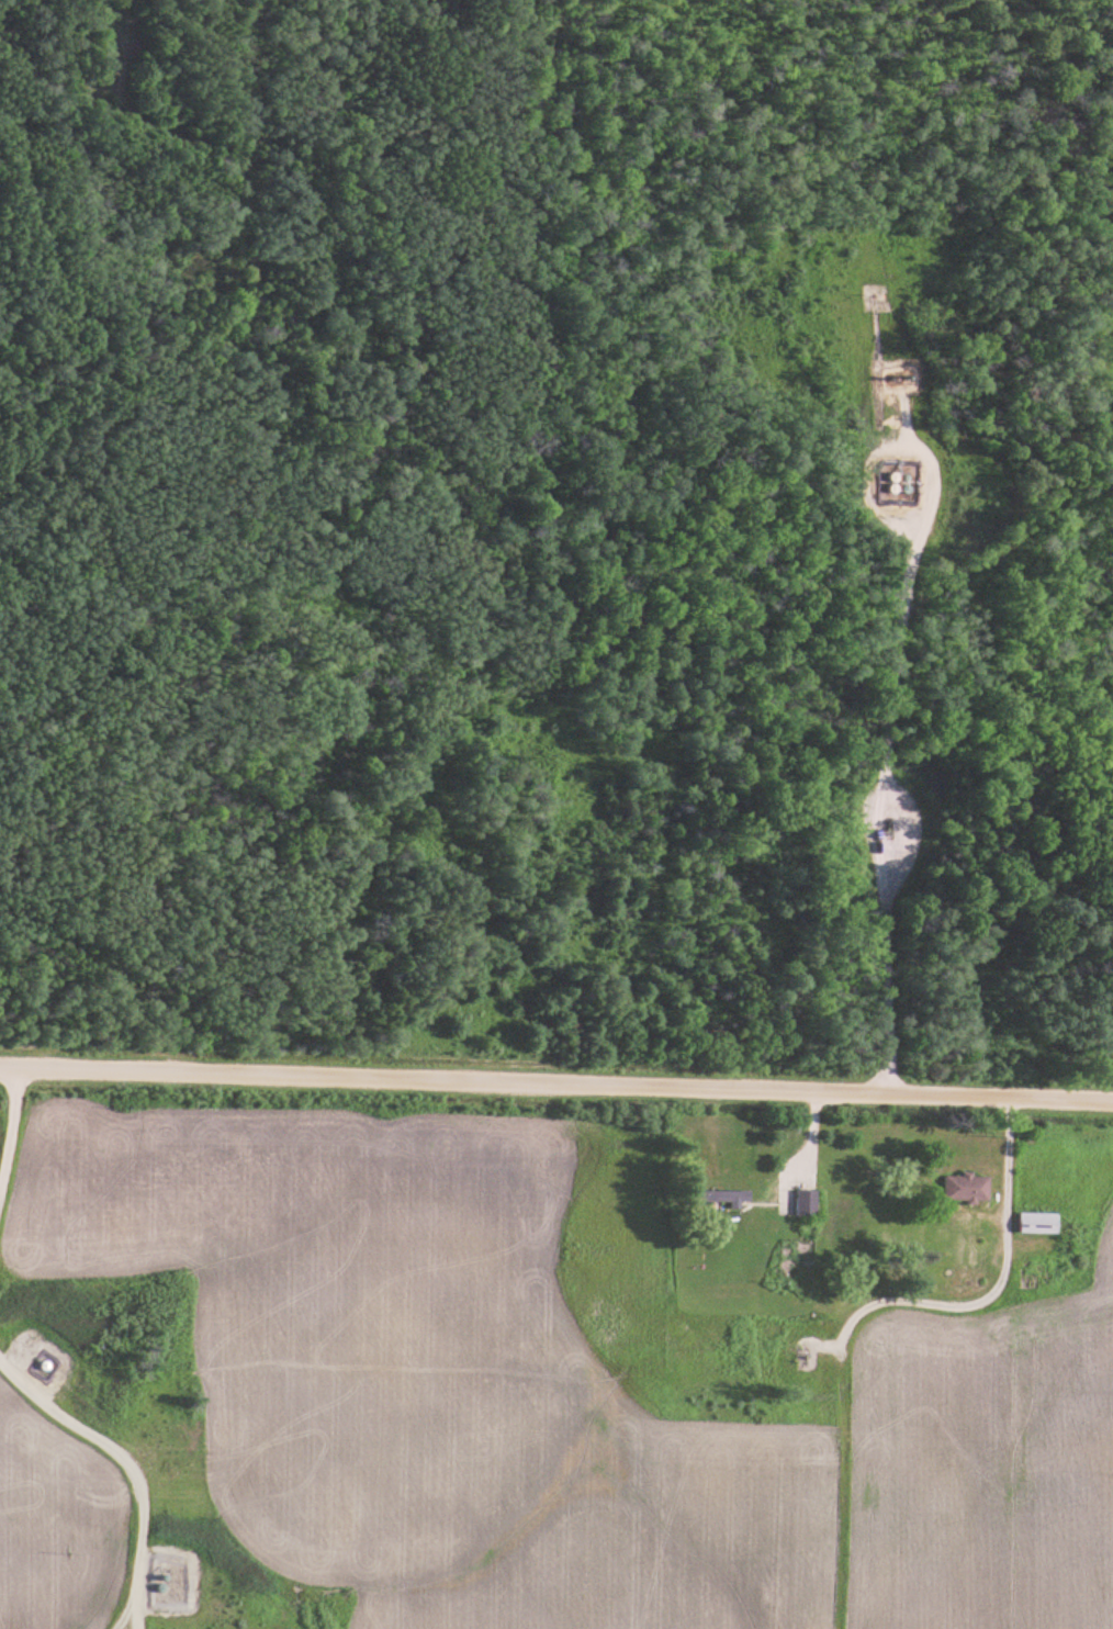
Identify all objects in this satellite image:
building: (899, 487)
road: (881, 753)
petroleum well: (885, 822)
road: (556, 1088)
building: (962, 1187)
building: (718, 1195)
building: (802, 1202)
building: (1034, 1222)
petroleum well: (805, 1351)

